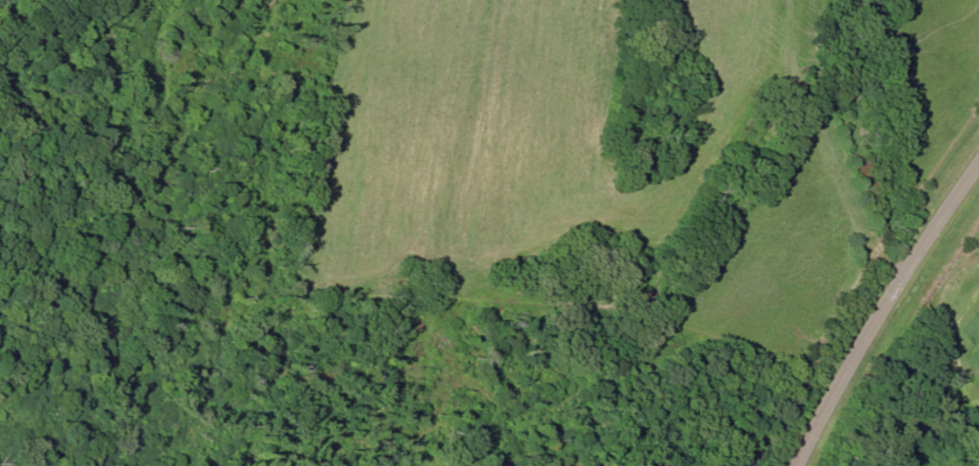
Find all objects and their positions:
road: (878, 306)

